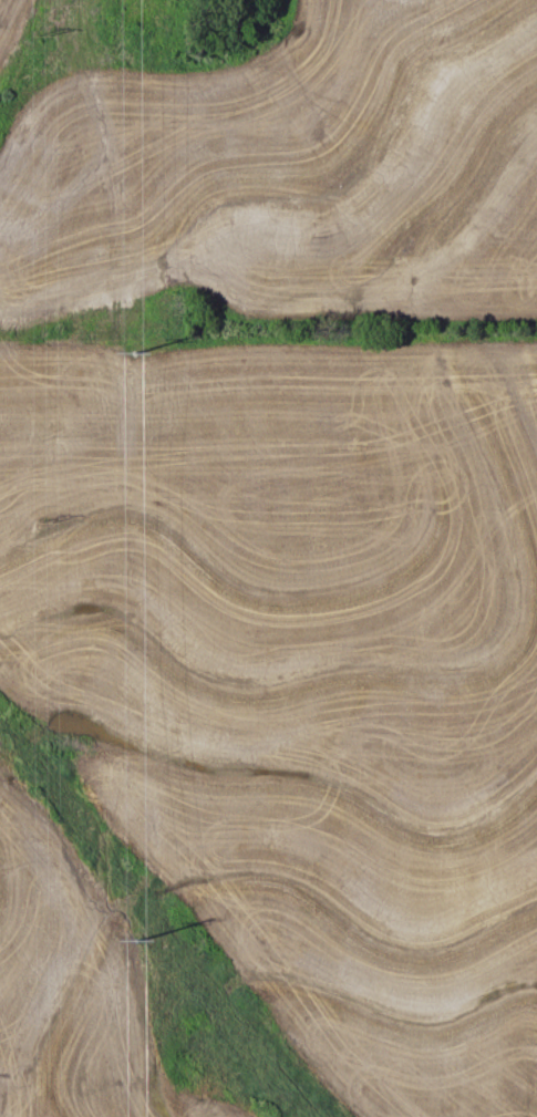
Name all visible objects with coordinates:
power tower: (42, 39)
power tower: (132, 349)
power tower: (44, 524)
power tower: (143, 938)

